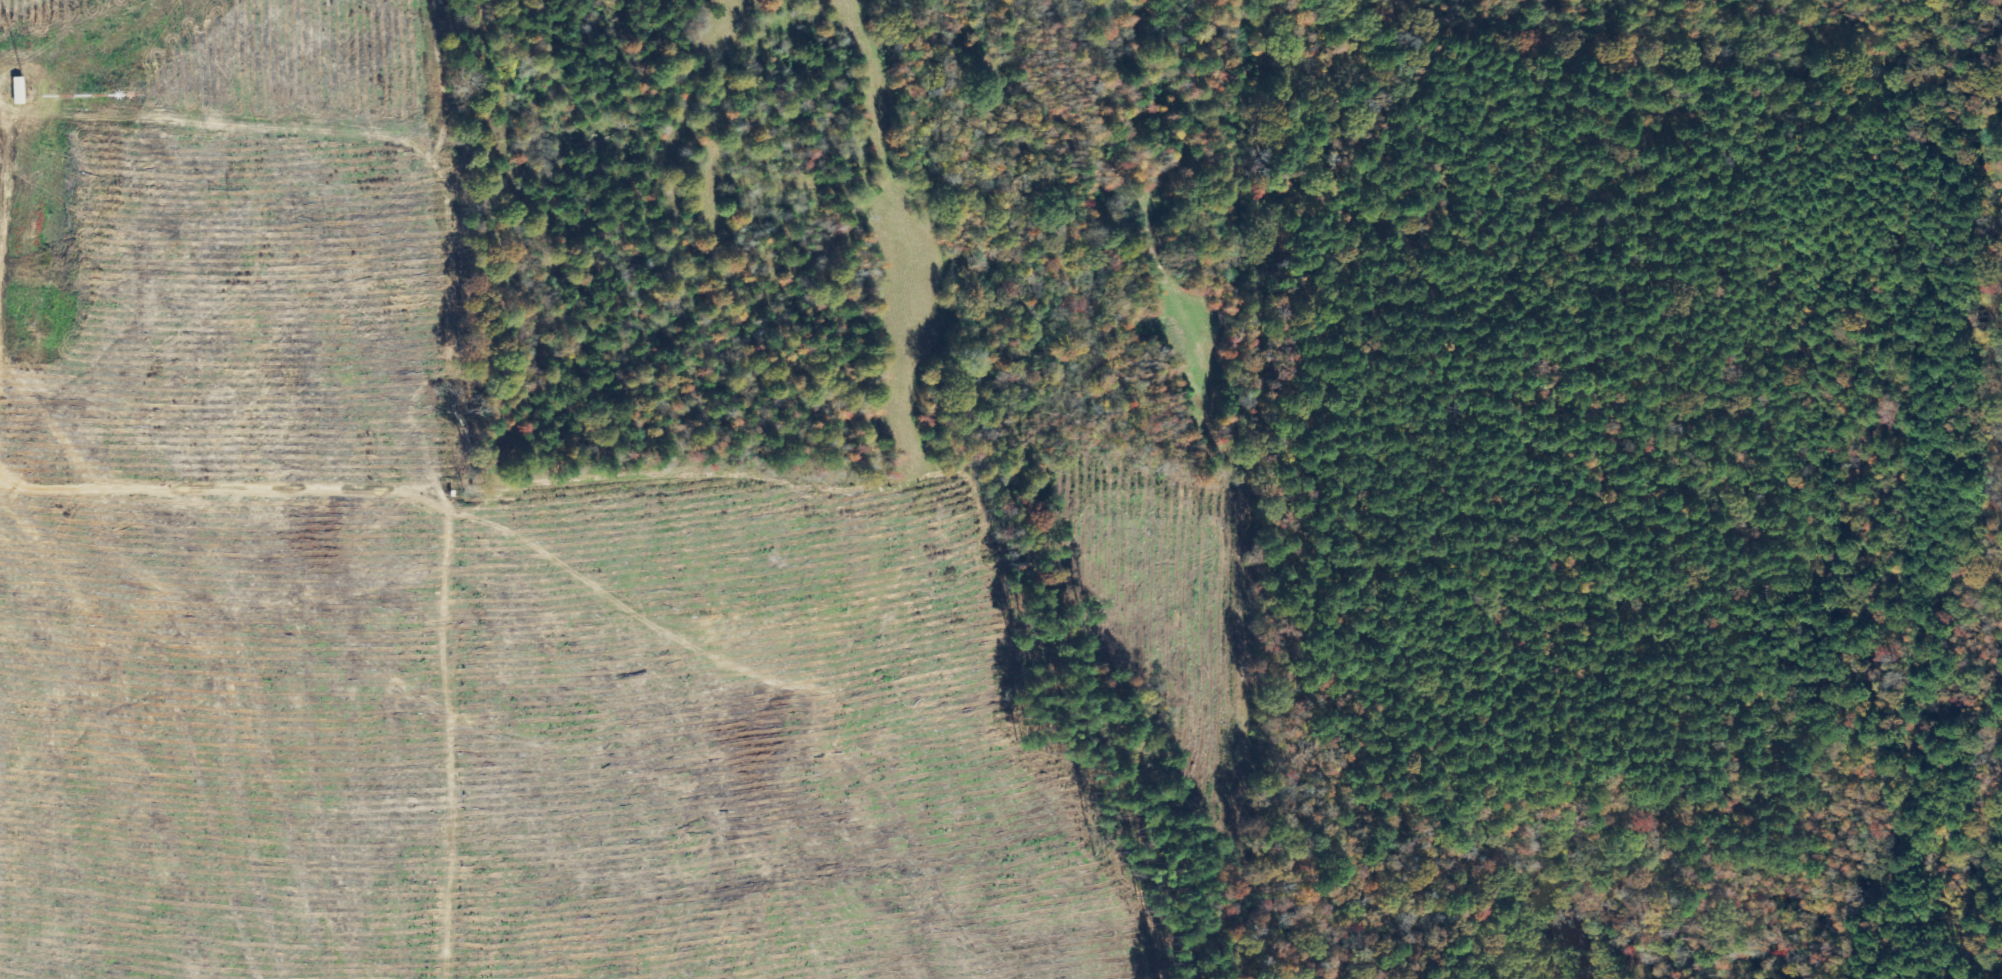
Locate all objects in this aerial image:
road: (2000, 806)

